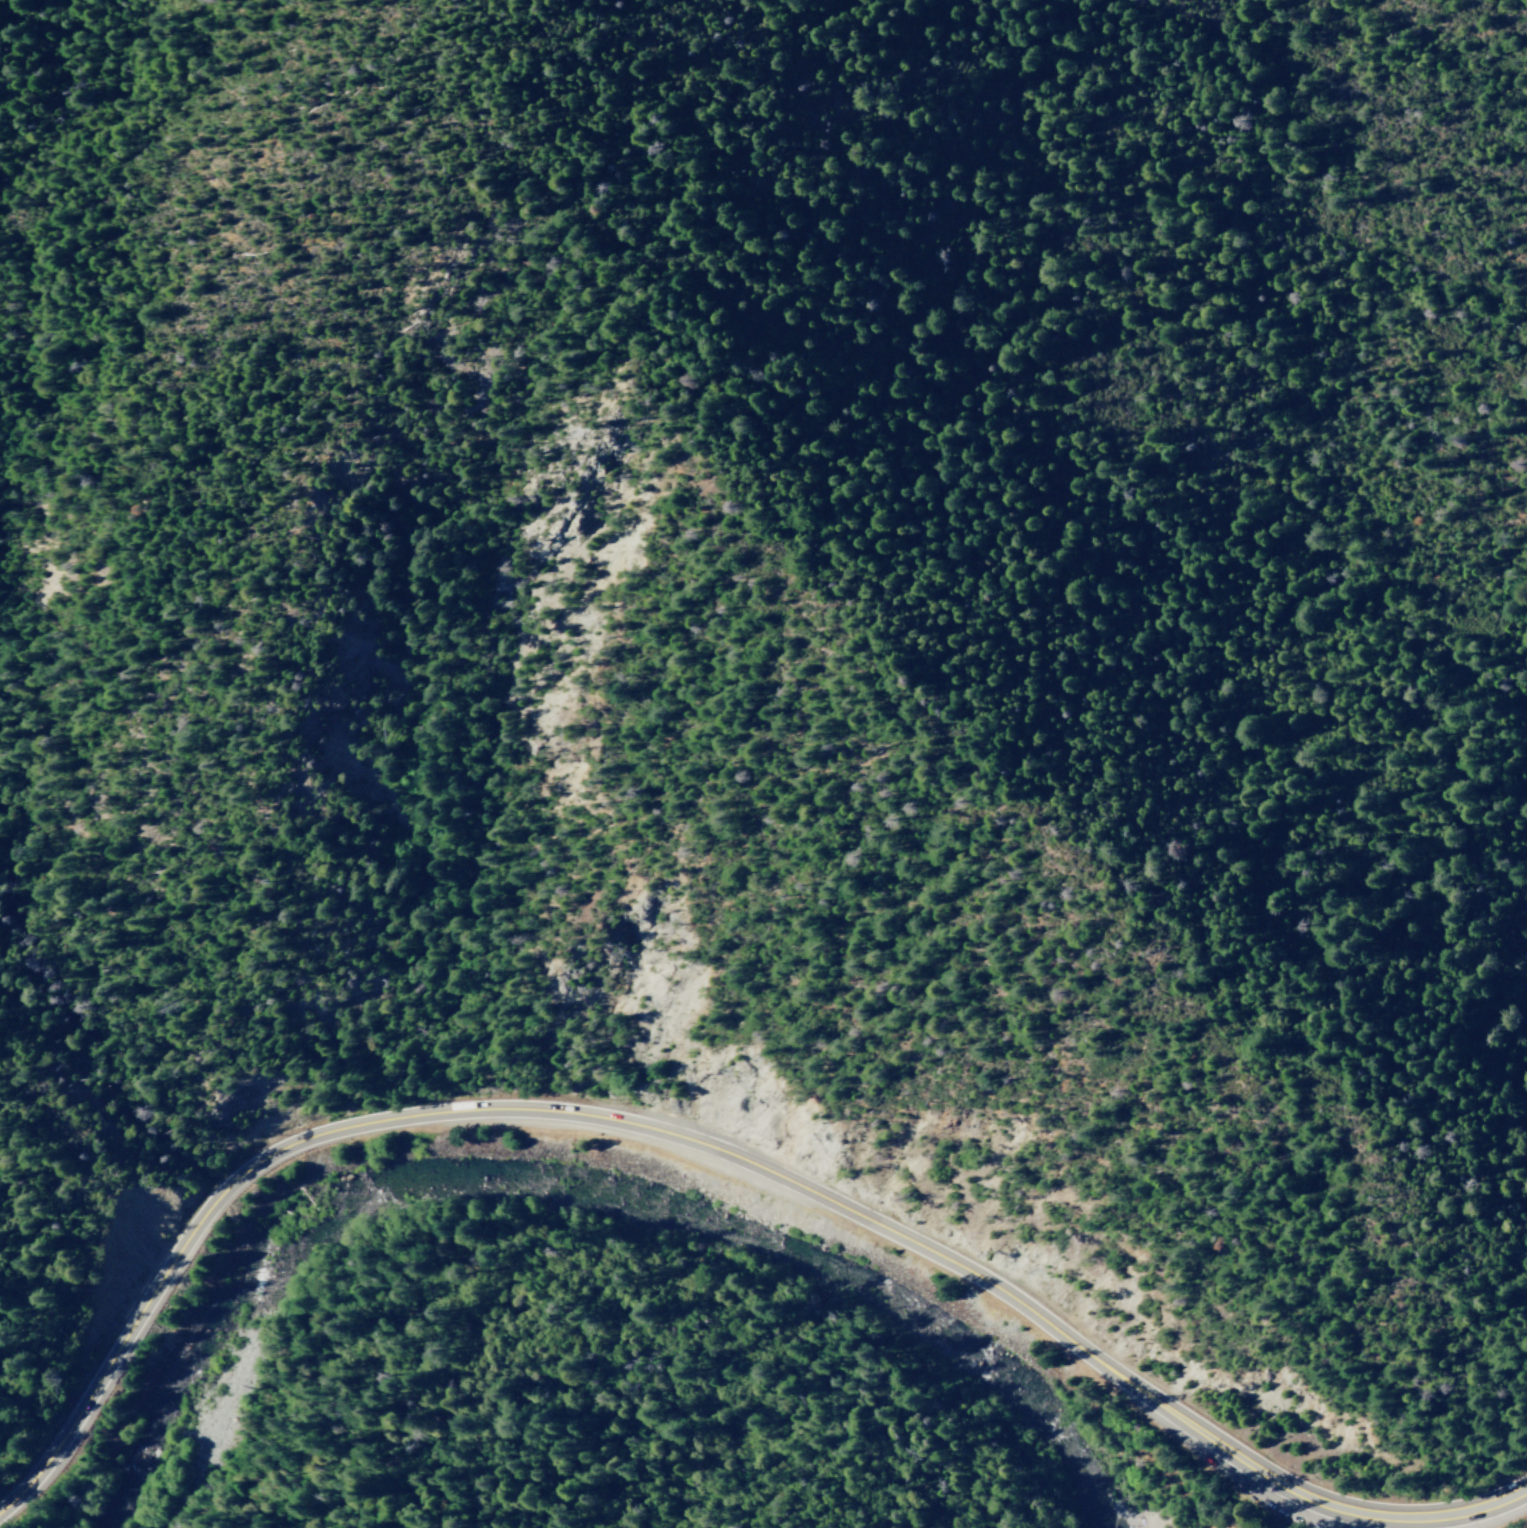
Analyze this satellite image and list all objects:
road: (724, 1154)
river: (342, 1176)
river: (801, 1245)
river: (169, 1384)
river: (1100, 1505)

